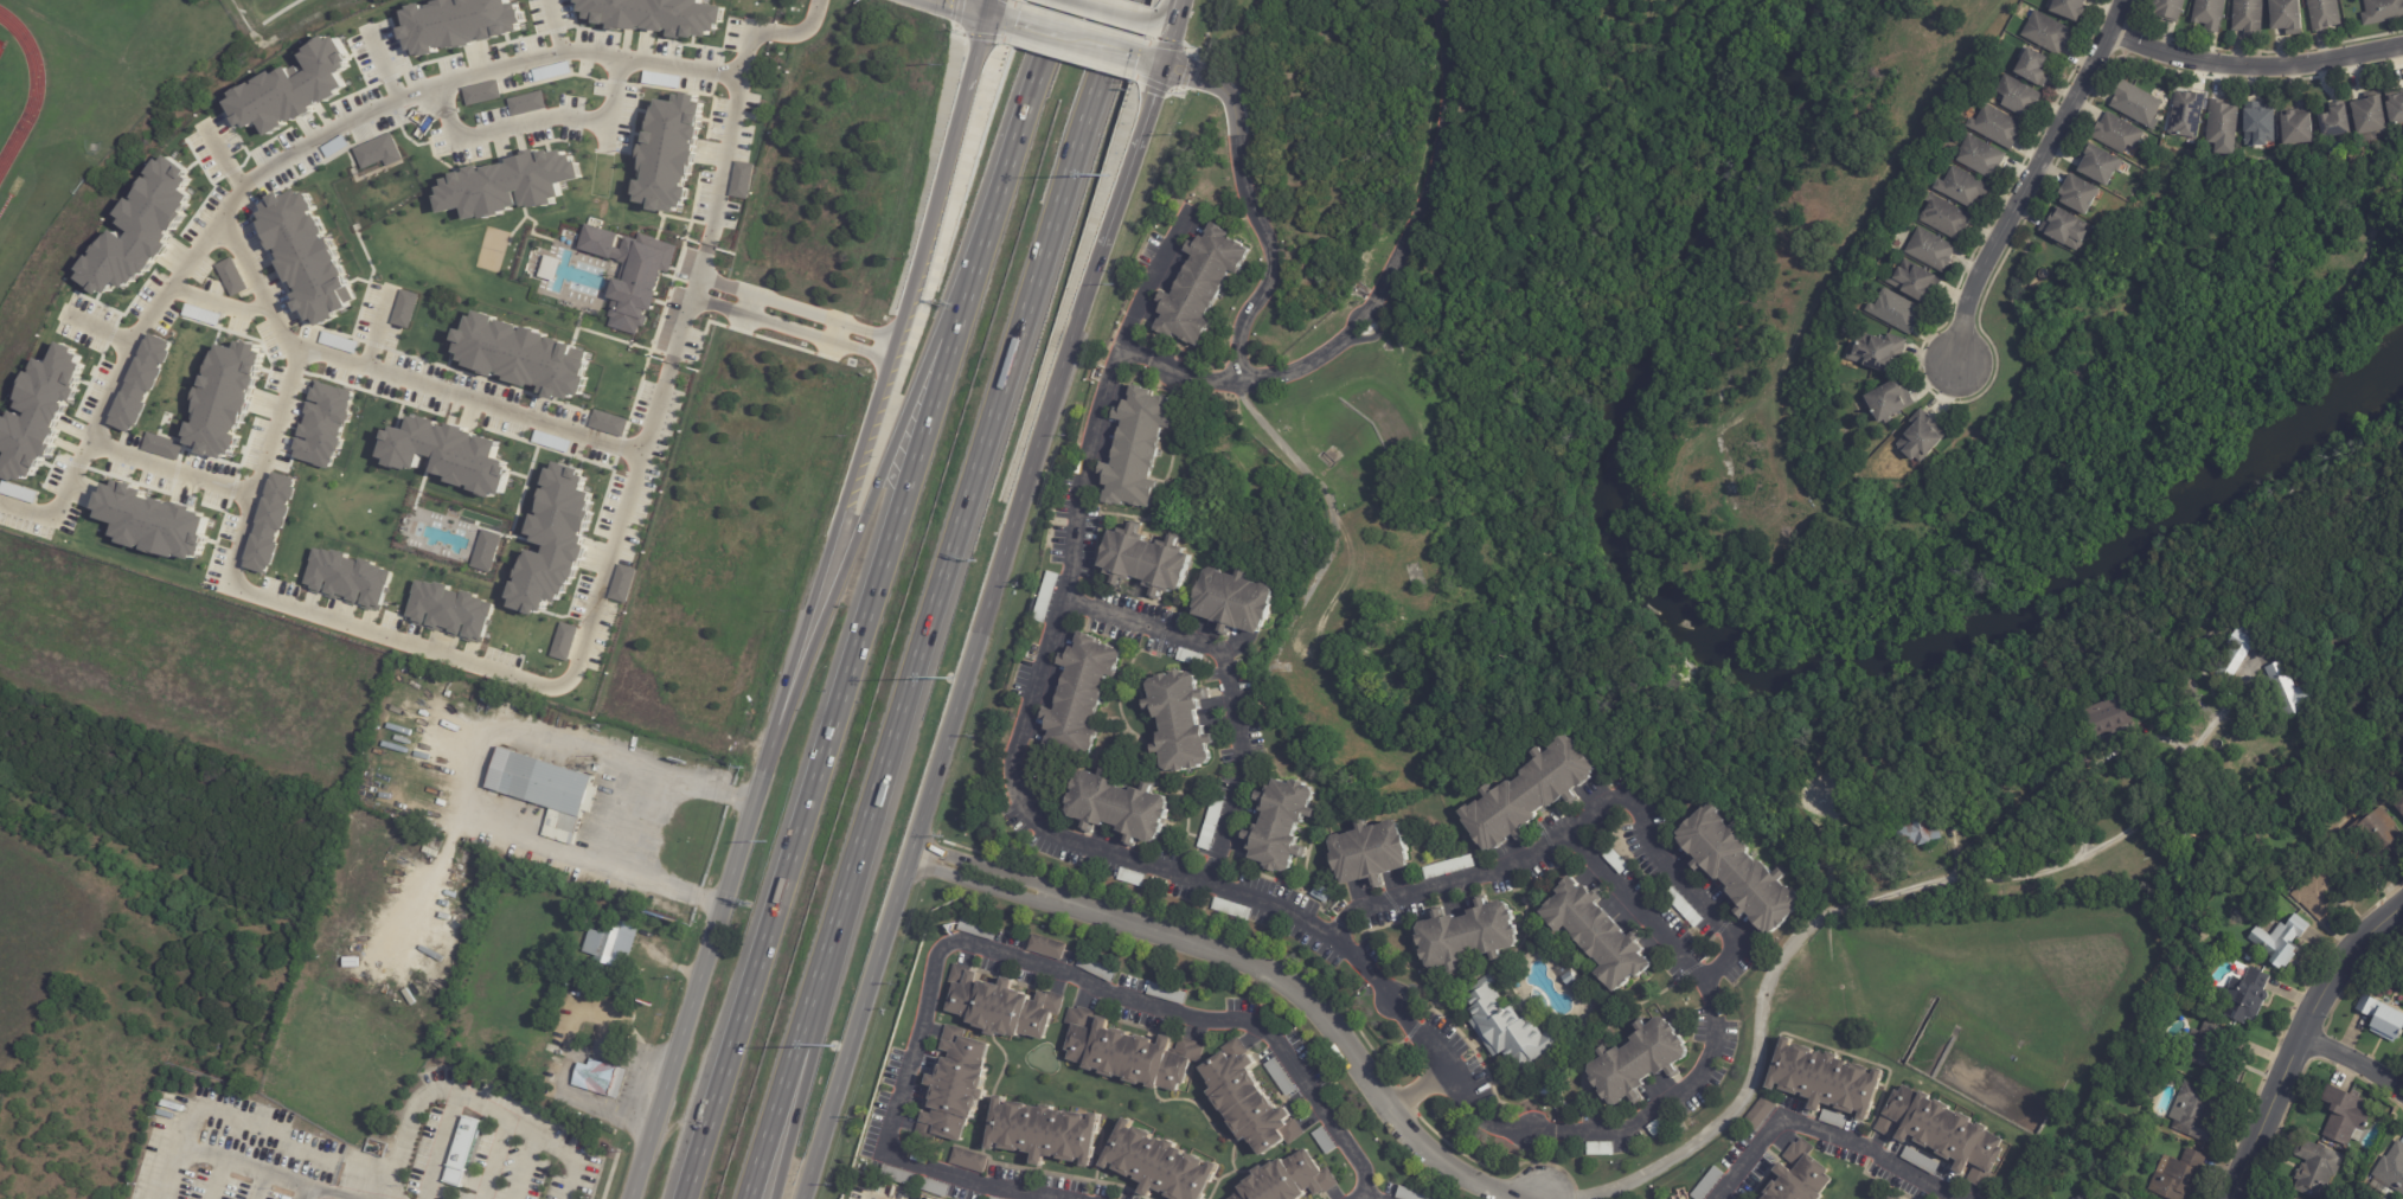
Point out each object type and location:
road: (970, 4)
traffic signals: (988, 8)
building: (2066, 9)
building: (2166, 9)
road: (995, 11)
road: (1113, 11)
road: (1170, 12)
building: (2382, 12)
building: (2207, 14)
building: (2322, 14)
building: (2247, 17)
building: (2285, 17)
building: (656, 19)
building: (456, 25)
road: (553, 26)
road: (805, 30)
road: (1177, 31)
building: (2045, 33)
road: (1078, 36)
road: (748, 45)
road: (1160, 60)
traffic signals: (1167, 63)
road: (385, 65)
building: (2032, 69)
road: (2255, 69)
building: (552, 71)
building: (662, 79)
track: (33, 90)
building: (294, 92)
building: (481, 94)
road: (1025, 96)
building: (2016, 97)
building: (526, 104)
building: (2134, 105)
building: (2395, 111)
building: (2185, 115)
road: (533, 118)
building: (2367, 118)
building: (2221, 124)
building: (2332, 124)
road: (340, 127)
building: (1995, 128)
building: (2257, 129)
building: (2294, 130)
building: (2115, 134)
building: (334, 147)
building: (377, 152)
building: (669, 155)
road: (1435, 155)
road: (223, 158)
building: (1979, 159)
building: (2097, 167)
road: (1129, 174)
road: (2030, 177)
building: (742, 180)
building: (511, 186)
building: (1961, 190)
building: (2075, 197)
road: (1251, 212)
building: (1943, 218)
building: (137, 227)
building: (2061, 231)
park: (491, 249)
building: (1928, 251)
building: (307, 255)
building: (550, 269)
building: (627, 270)
building: (231, 277)
building: (1912, 283)
building: (1199, 287)
road: (223, 302)
road: (690, 304)
road: (750, 306)
building: (404, 308)
road: (796, 308)
building: (1893, 313)
building: (201, 314)
road: (98, 328)
road: (374, 331)
road: (790, 331)
road: (838, 333)
park: (2179, 336)
building: (341, 342)
road: (291, 344)
building: (1875, 353)
building: (521, 360)
road: (1315, 363)
road: (1174, 366)
building: (140, 381)
road: (2159, 384)
road: (1104, 397)
road: (469, 398)
building: (224, 399)
building: (1886, 403)
building: (41, 412)
building: (320, 421)
building: (609, 424)
building: (1918, 438)
building: (551, 443)
building: (162, 447)
building: (1135, 448)
building: (444, 457)
building: (18, 493)
road: (870, 493)
road: (59, 501)
road: (1333, 514)
building: (153, 520)
building: (269, 521)
building: (556, 540)
building: (486, 552)
building: (1145, 562)
building: (348, 579)
building: (622, 583)
building: (1043, 597)
road: (812, 599)
road: (931, 599)
building: (1232, 601)
building: (448, 610)
road: (1117, 616)
building: (564, 641)
building: (2241, 652)
building: (1187, 658)
road: (517, 669)
building: (2289, 691)
road: (838, 695)
building: (1078, 698)
building: (2107, 717)
building: (1179, 722)
road: (944, 742)
road: (474, 769)
building: (543, 787)
building: (1527, 794)
building: (2399, 806)
building: (1117, 808)
road: (628, 819)
building: (1209, 825)
building: (1281, 825)
building: (1918, 829)
building: (2378, 831)
building: (435, 844)
building: (468, 852)
building: (1369, 854)
building: (1614, 861)
building: (1446, 867)
road: (1674, 870)
building: (1737, 870)
road: (430, 878)
building: (1128, 878)
building: (487, 884)
road: (1614, 884)
building: (2322, 890)
building: (1319, 893)
building: (1679, 905)
road: (1864, 908)
building: (1229, 910)
building: (327, 921)
building: (974, 928)
building: (2196, 932)
building: (1595, 935)
building: (1466, 937)
building: (2279, 941)
building: (616, 944)
building: (1046, 947)
road: (1023, 961)
building: (1094, 968)
road: (1257, 970)
building: (1568, 979)
building: (2358, 989)
building: (1164, 993)
building: (2243, 996)
fountain: (1534, 1002)
building: (1002, 1006)
road: (819, 1007)
parking lot: (587, 1017)
building: (2380, 1019)
building: (1504, 1027)
road: (2302, 1045)
building: (2209, 1050)
road: (601, 1053)
building: (1129, 1053)
building: (1636, 1063)
road: (2356, 1064)
building: (595, 1076)
building: (1277, 1076)
building: (1824, 1081)
building: (617, 1082)
parking lot: (627, 1085)
building: (954, 1088)
road: (1418, 1095)
road: (575, 1096)
road: (467, 1101)
building: (1247, 1107)
building: (2345, 1111)
building: (2193, 1113)
building: (1757, 1114)
building: (1832, 1120)
building: (1660, 1126)
building: (1043, 1133)
road: (1827, 1133)
building: (1942, 1133)
building: (1321, 1140)
building: (1597, 1149)
building: (462, 1152)
building: (969, 1161)
building: (1918, 1162)
building: (1159, 1165)
building: (2391, 1167)
building: (2313, 1169)
building: (2178, 1174)
building: (896, 1175)
building: (1801, 1176)
building: (1289, 1180)
building: (1705, 1184)
building: (931, 1186)
road: (325, 1187)
building: (1409, 1194)
building: (1886, 1197)
building: (2081, 1197)
building: (2277, 1197)
building: (991, 1198)
road: (1364, 1198)
road: (1369, 1198)

